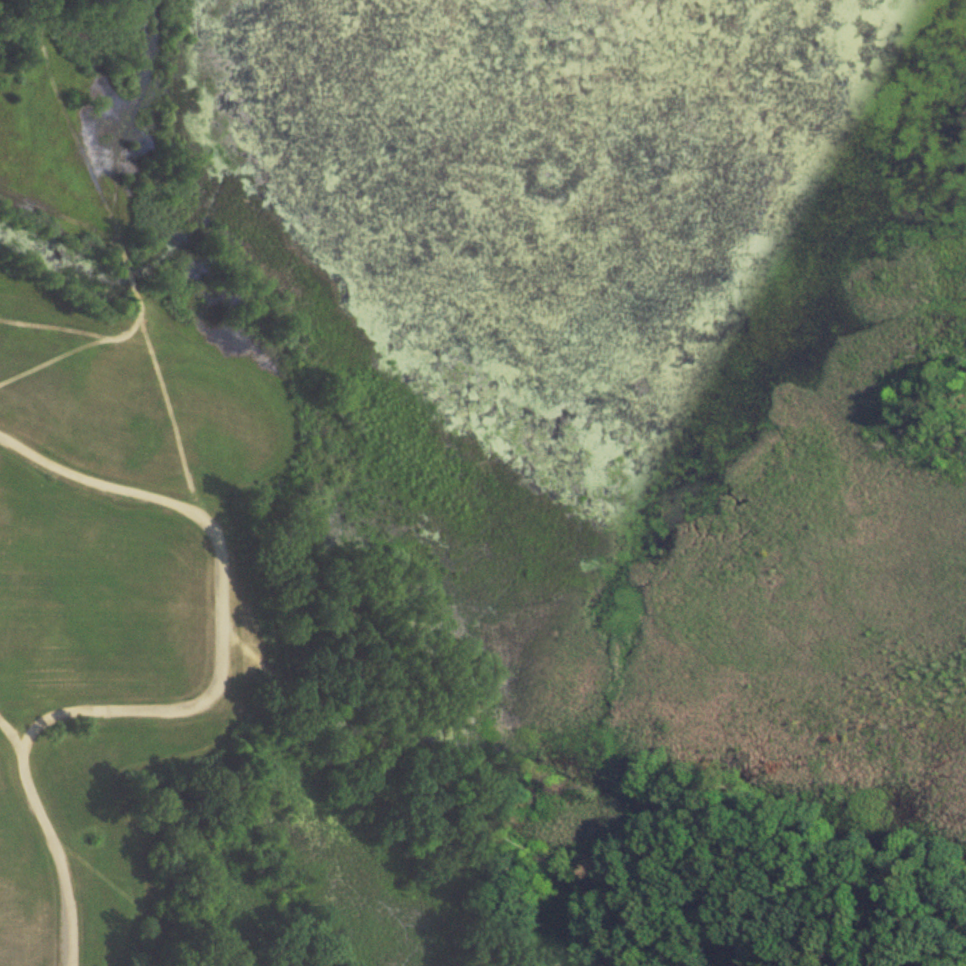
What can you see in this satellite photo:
road: (198, 704)

